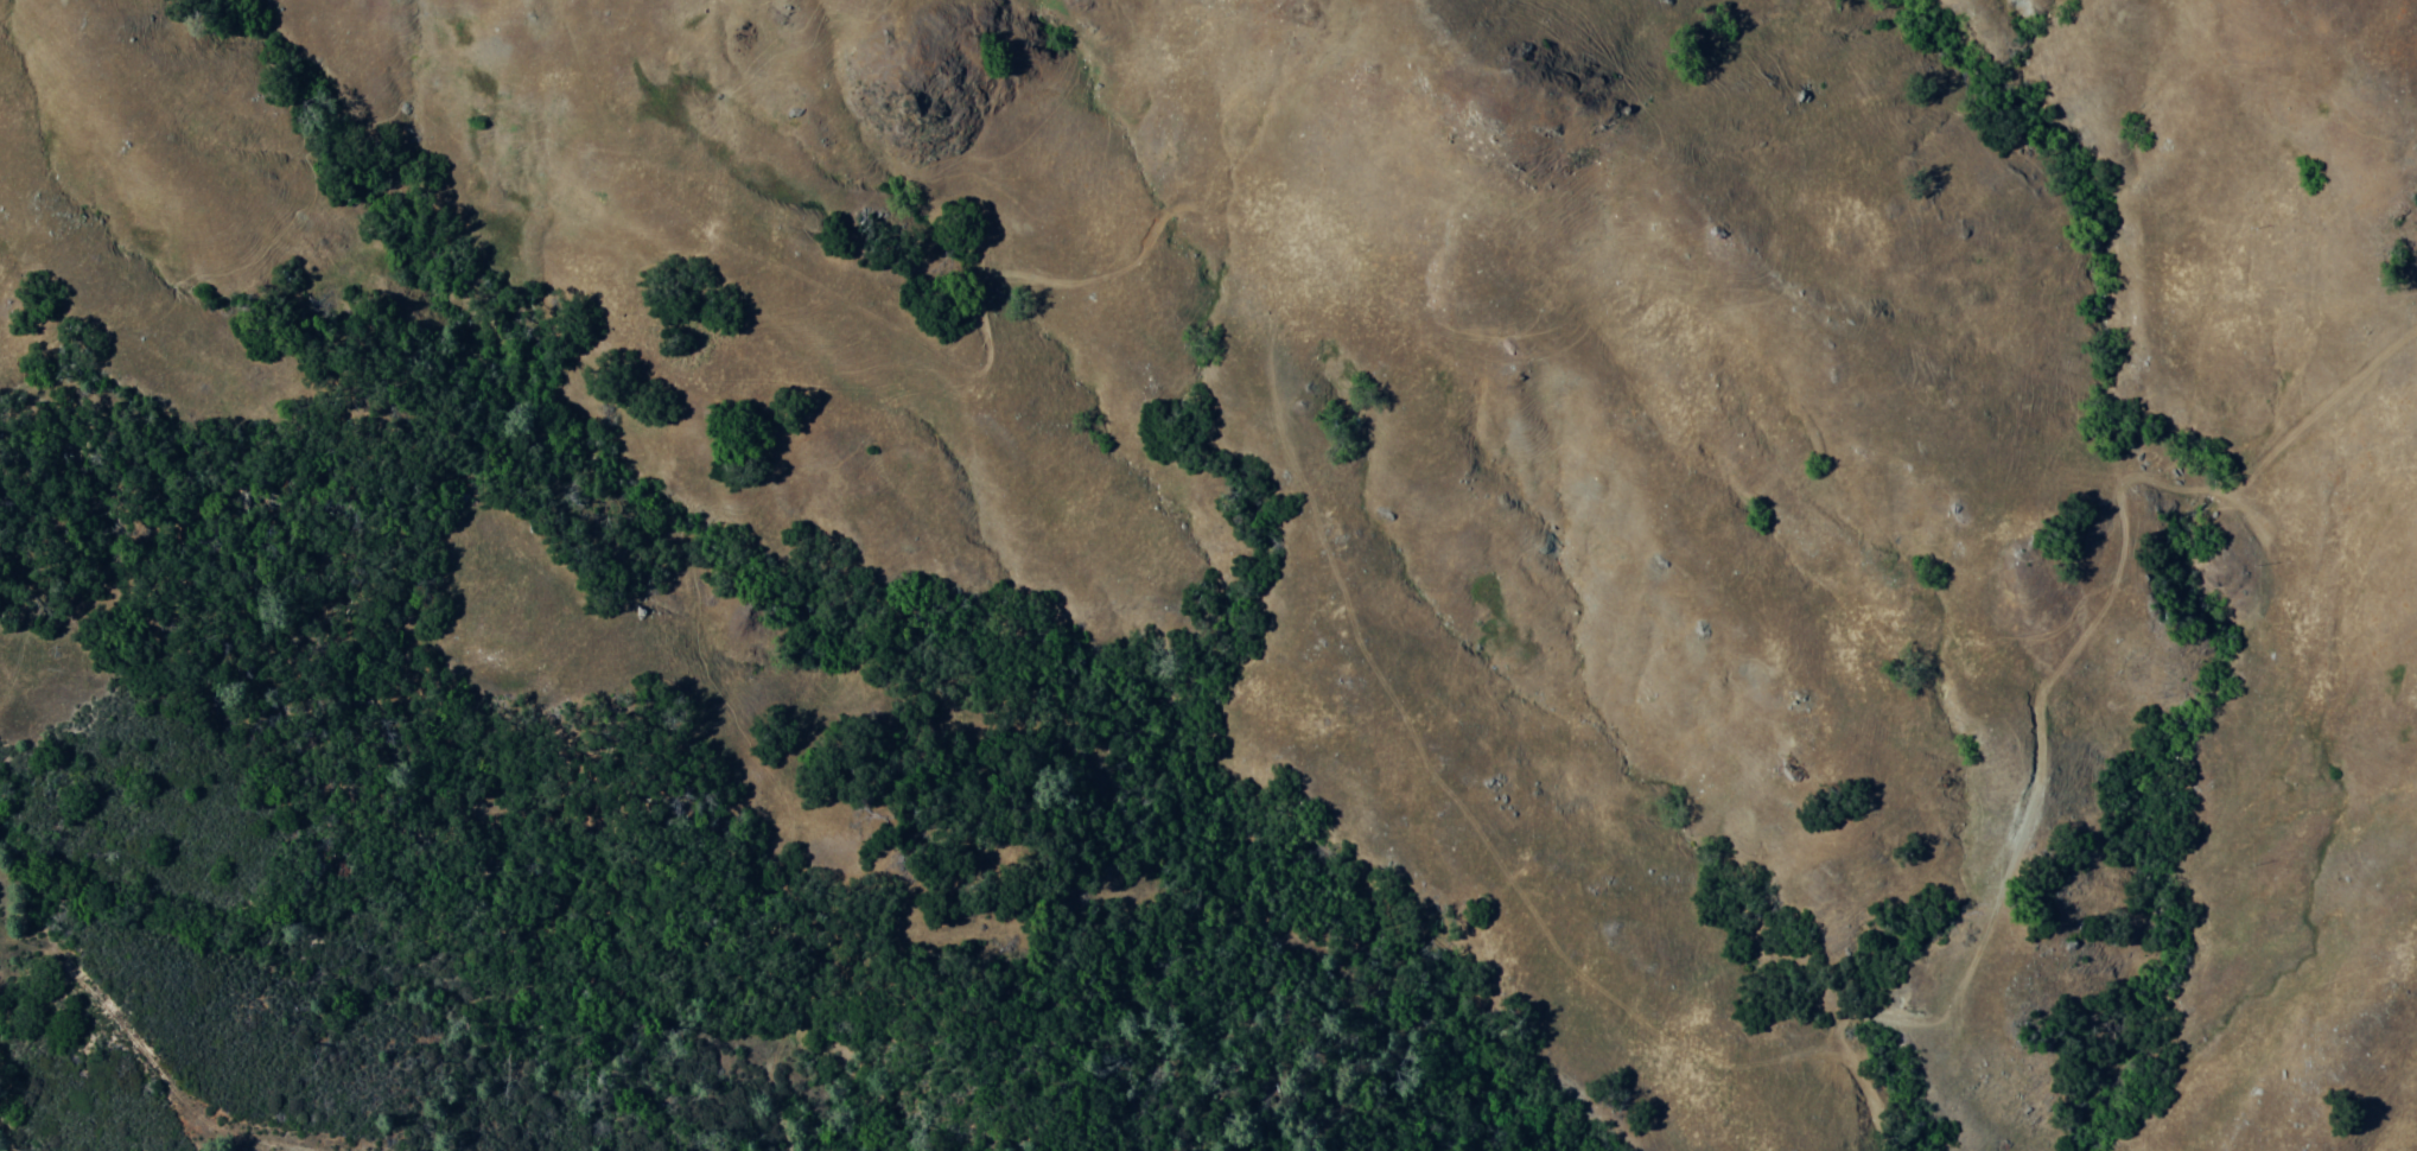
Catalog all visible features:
road: (1980, 960)

